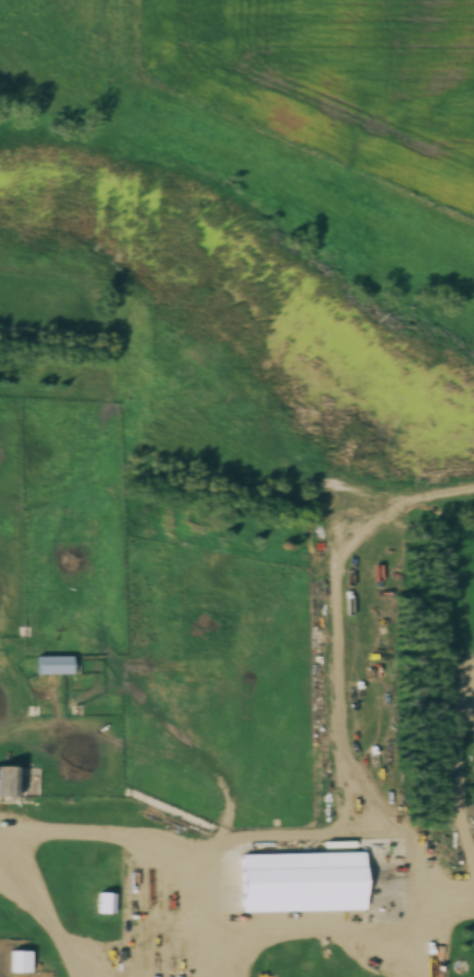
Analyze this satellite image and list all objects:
building: (57, 670)
building: (8, 782)
building: (306, 886)
building: (106, 903)
building: (19, 961)

